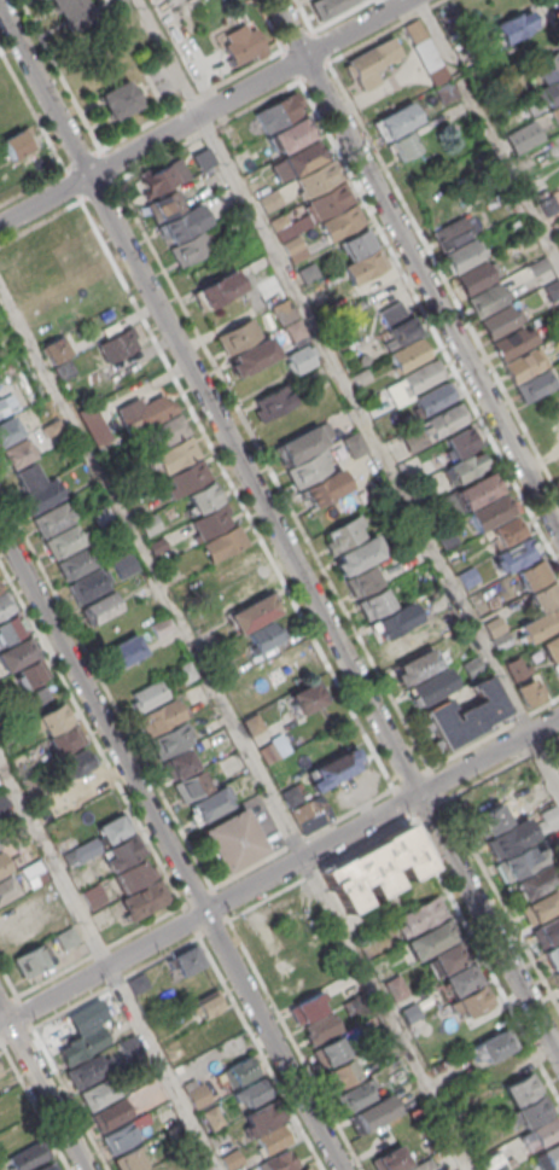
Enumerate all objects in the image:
road: (558, 0)
road: (437, 4)
building: (328, 6)
road: (423, 11)
building: (72, 12)
road: (340, 16)
road: (548, 18)
building: (516, 25)
road: (311, 33)
road: (373, 39)
building: (241, 43)
building: (424, 51)
building: (365, 64)
building: (547, 66)
road: (240, 74)
building: (446, 92)
building: (551, 92)
building: (118, 99)
road: (191, 100)
building: (534, 107)
building: (557, 109)
road: (31, 110)
road: (203, 112)
building: (278, 112)
building: (396, 120)
road: (140, 129)
road: (488, 132)
building: (291, 135)
building: (18, 142)
building: (403, 145)
building: (203, 157)
building: (303, 157)
road: (82, 159)
building: (163, 176)
building: (316, 176)
road: (69, 181)
road: (31, 187)
building: (269, 200)
building: (328, 200)
building: (164, 204)
building: (547, 205)
building: (279, 221)
building: (339, 223)
building: (182, 225)
building: (295, 225)
building: (450, 234)
building: (41, 241)
building: (357, 243)
building: (191, 246)
building: (293, 248)
building: (462, 256)
building: (537, 264)
building: (365, 266)
road: (415, 267)
building: (308, 273)
building: (474, 277)
building: (217, 290)
building: (552, 290)
building: (487, 299)
building: (284, 312)
building: (499, 321)
building: (396, 322)
road: (429, 324)
building: (295, 330)
building: (238, 334)
building: (513, 343)
building: (117, 345)
building: (58, 349)
building: (408, 354)
building: (254, 355)
building: (299, 359)
building: (363, 359)
building: (523, 366)
building: (65, 368)
building: (361, 376)
building: (421, 376)
building: (535, 385)
road: (348, 394)
building: (433, 397)
building: (272, 403)
building: (146, 415)
building: (446, 419)
building: (94, 424)
building: (7, 430)
building: (165, 433)
building: (413, 440)
building: (462, 441)
building: (301, 443)
building: (354, 443)
building: (14, 453)
building: (174, 455)
building: (465, 467)
building: (307, 468)
building: (25, 476)
building: (190, 477)
building: (326, 488)
building: (478, 490)
building: (41, 496)
building: (204, 497)
building: (489, 512)
building: (103, 517)
building: (52, 519)
building: (211, 520)
building: (150, 524)
building: (507, 531)
road: (279, 532)
building: (344, 534)
building: (447, 537)
building: (63, 541)
building: (222, 543)
building: (157, 546)
building: (360, 554)
building: (517, 554)
building: (76, 563)
building: (123, 565)
building: (235, 565)
building: (532, 575)
building: (468, 576)
building: (362, 581)
building: (89, 584)
building: (545, 595)
building: (4, 604)
building: (375, 604)
building: (103, 607)
building: (252, 613)
building: (396, 621)
building: (494, 624)
building: (541, 624)
building: (161, 627)
building: (7, 629)
building: (263, 636)
building: (502, 641)
building: (398, 647)
building: (552, 647)
building: (124, 651)
building: (17, 653)
building: (291, 663)
building: (221, 665)
building: (418, 665)
building: (473, 668)
building: (517, 668)
building: (186, 671)
building: (29, 673)
building: (234, 687)
building: (431, 687)
building: (530, 692)
building: (39, 695)
building: (149, 695)
building: (307, 698)
road: (115, 704)
building: (466, 714)
building: (159, 716)
building: (52, 718)
building: (252, 723)
road: (234, 728)
building: (65, 738)
building: (171, 739)
building: (75, 762)
building: (181, 762)
building: (332, 770)
building: (85, 786)
building: (190, 786)
building: (291, 796)
building: (2, 802)
building: (209, 804)
building: (45, 805)
building: (311, 813)
building: (551, 815)
building: (494, 817)
building: (8, 823)
building: (111, 830)
building: (507, 838)
building: (234, 840)
road: (286, 846)
road: (171, 849)
building: (121, 851)
building: (71, 855)
building: (519, 861)
building: (2, 865)
building: (377, 867)
road: (279, 871)
building: (31, 873)
building: (132, 875)
building: (81, 877)
building: (534, 883)
building: (7, 887)
road: (279, 890)
building: (91, 896)
building: (142, 900)
road: (502, 902)
building: (541, 906)
building: (421, 914)
building: (21, 922)
building: (547, 932)
building: (279, 937)
building: (64, 938)
building: (430, 939)
building: (553, 955)
building: (450, 956)
building: (186, 959)
building: (29, 960)
road: (105, 968)
building: (558, 974)
building: (462, 979)
building: (136, 983)
building: (397, 985)
building: (474, 1001)
building: (206, 1002)
building: (307, 1007)
building: (321, 1026)
building: (81, 1046)
building: (129, 1046)
building: (490, 1046)
building: (330, 1052)
road: (261, 1053)
building: (439, 1067)
building: (86, 1071)
building: (239, 1071)
building: (0, 1072)
building: (343, 1072)
building: (523, 1089)
road: (42, 1090)
building: (251, 1093)
building: (98, 1094)
building: (197, 1095)
building: (355, 1096)
road: (69, 1098)
building: (534, 1111)
building: (373, 1113)
building: (109, 1116)
building: (211, 1117)
building: (261, 1119)
building: (541, 1134)
building: (118, 1137)
building: (274, 1139)
building: (27, 1156)
building: (548, 1158)
building: (231, 1159)
building: (390, 1159)
building: (129, 1160)
building: (493, 1162)
building: (280, 1163)
building: (421, 1165)
building: (47, 1166)
building: (204, 1169)
building: (248, 1169)
building: (307, 1169)

